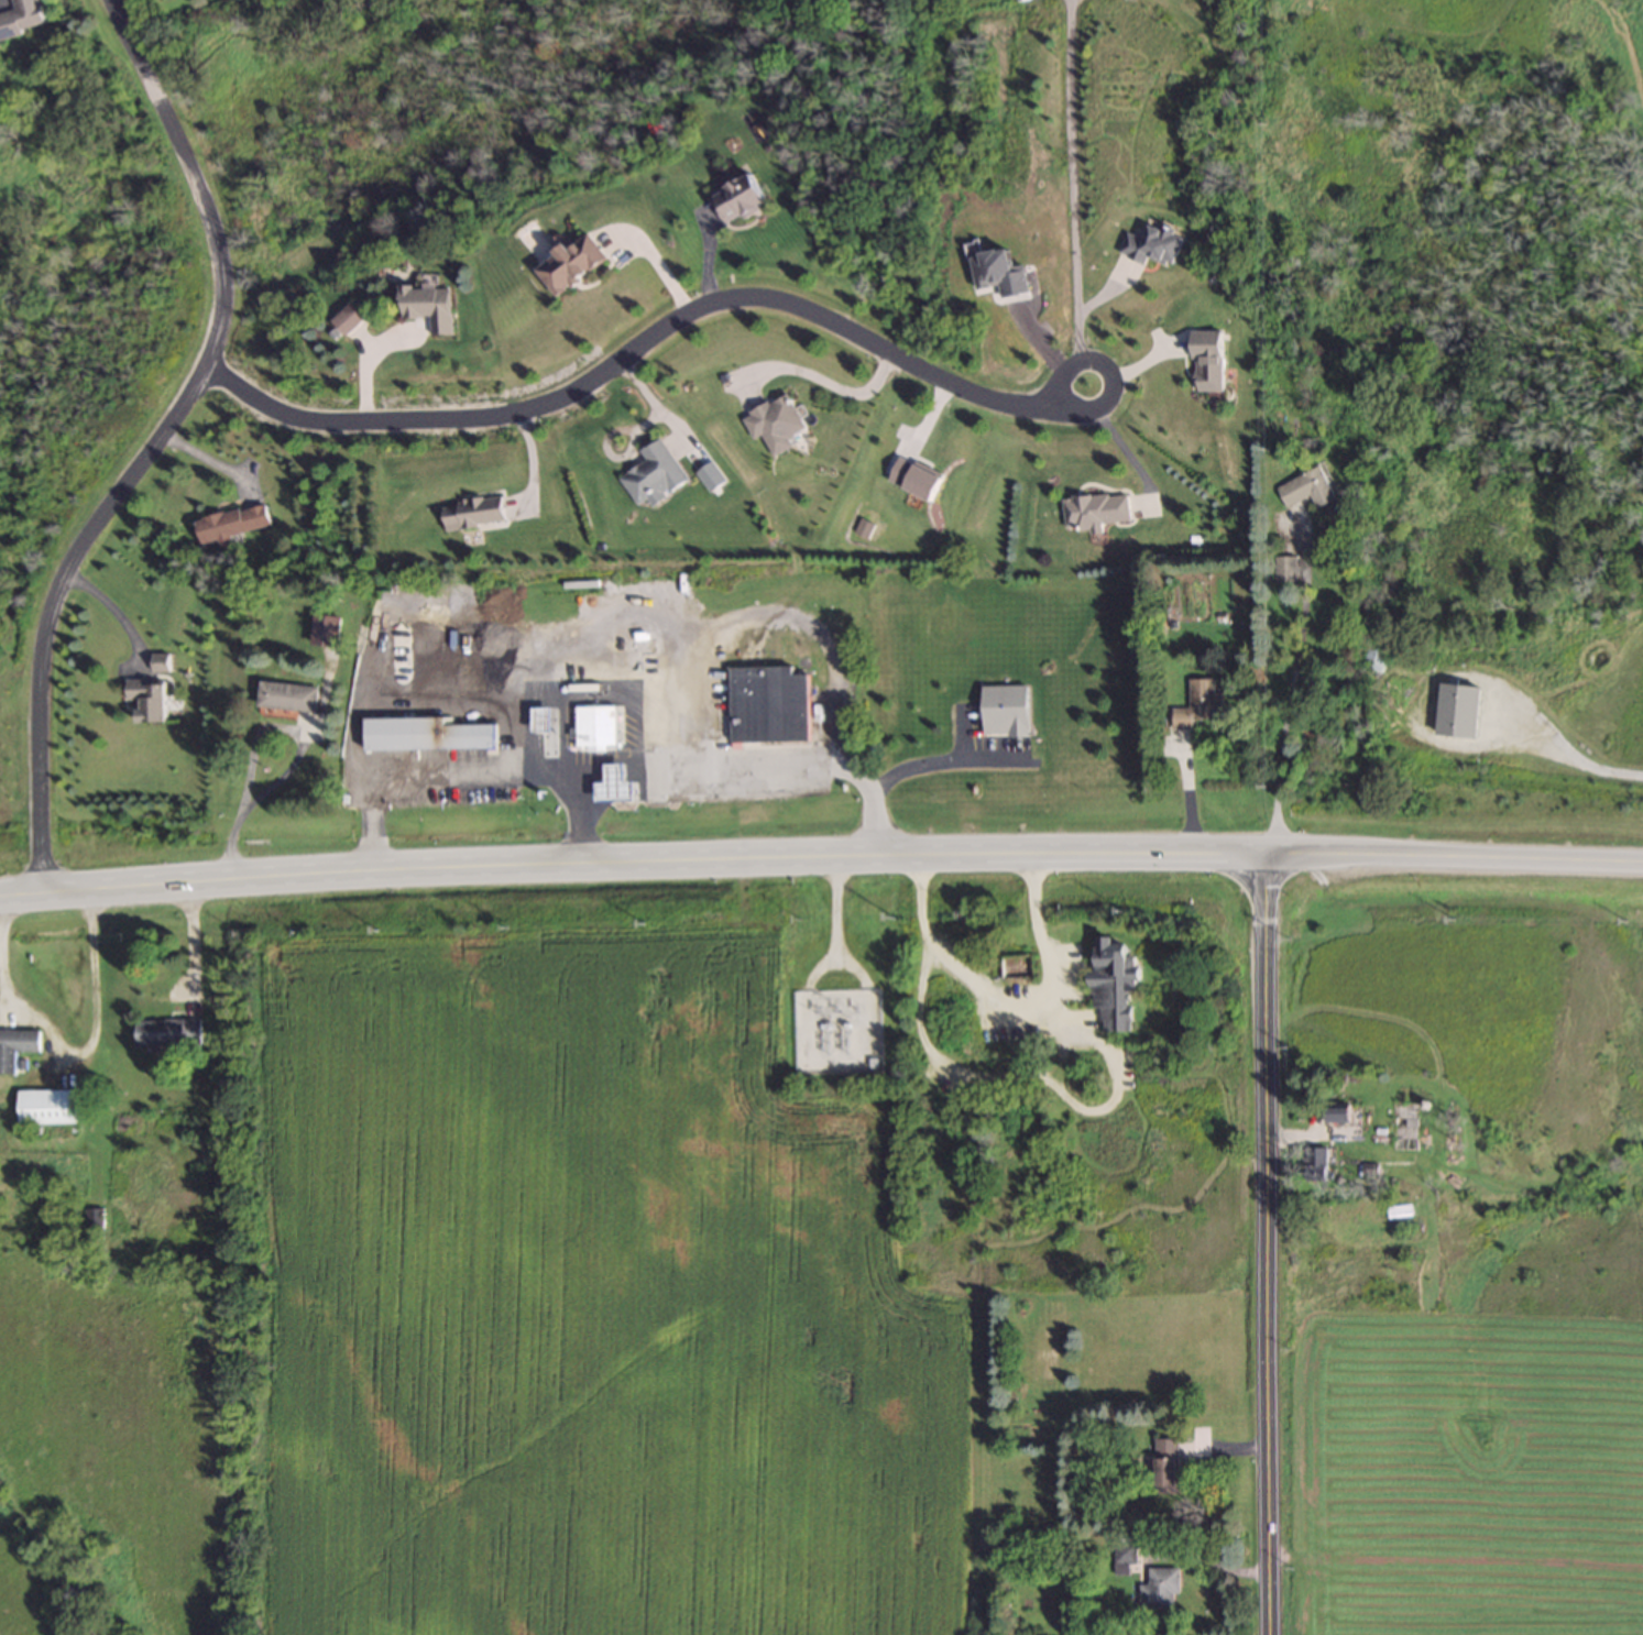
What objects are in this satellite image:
building: (22, 18)
road: (1076, 193)
building: (744, 197)
building: (1155, 243)
building: (573, 264)
building: (429, 307)
building: (349, 318)
road: (642, 334)
building: (1213, 360)
building: (775, 423)
road: (147, 439)
road: (1124, 441)
building: (653, 474)
building: (1312, 490)
building: (1095, 511)
building: (473, 513)
building: (232, 523)
building: (1285, 568)
road: (111, 603)
building: (1379, 657)
building: (161, 662)
road: (1299, 693)
building: (291, 696)
building: (150, 699)
building: (1441, 702)
building: (1202, 704)
building: (768, 705)
building: (594, 726)
building: (429, 735)
road: (940, 758)
road: (1574, 767)
road: (612, 771)
building: (622, 790)
road: (573, 817)
road: (1453, 856)
road: (631, 860)
road: (193, 942)
building: (1014, 966)
building: (1111, 983)
road: (984, 994)
road: (90, 1028)
building: (169, 1032)
building: (15, 1047)
road: (1001, 1076)
building: (46, 1106)
building: (1341, 1116)
building: (1411, 1127)
road: (1308, 1135)
building: (1319, 1165)
road: (1260, 1243)
road: (1222, 1448)
building: (1165, 1466)
road: (1189, 1556)
building: (1121, 1557)
building: (1158, 1589)

